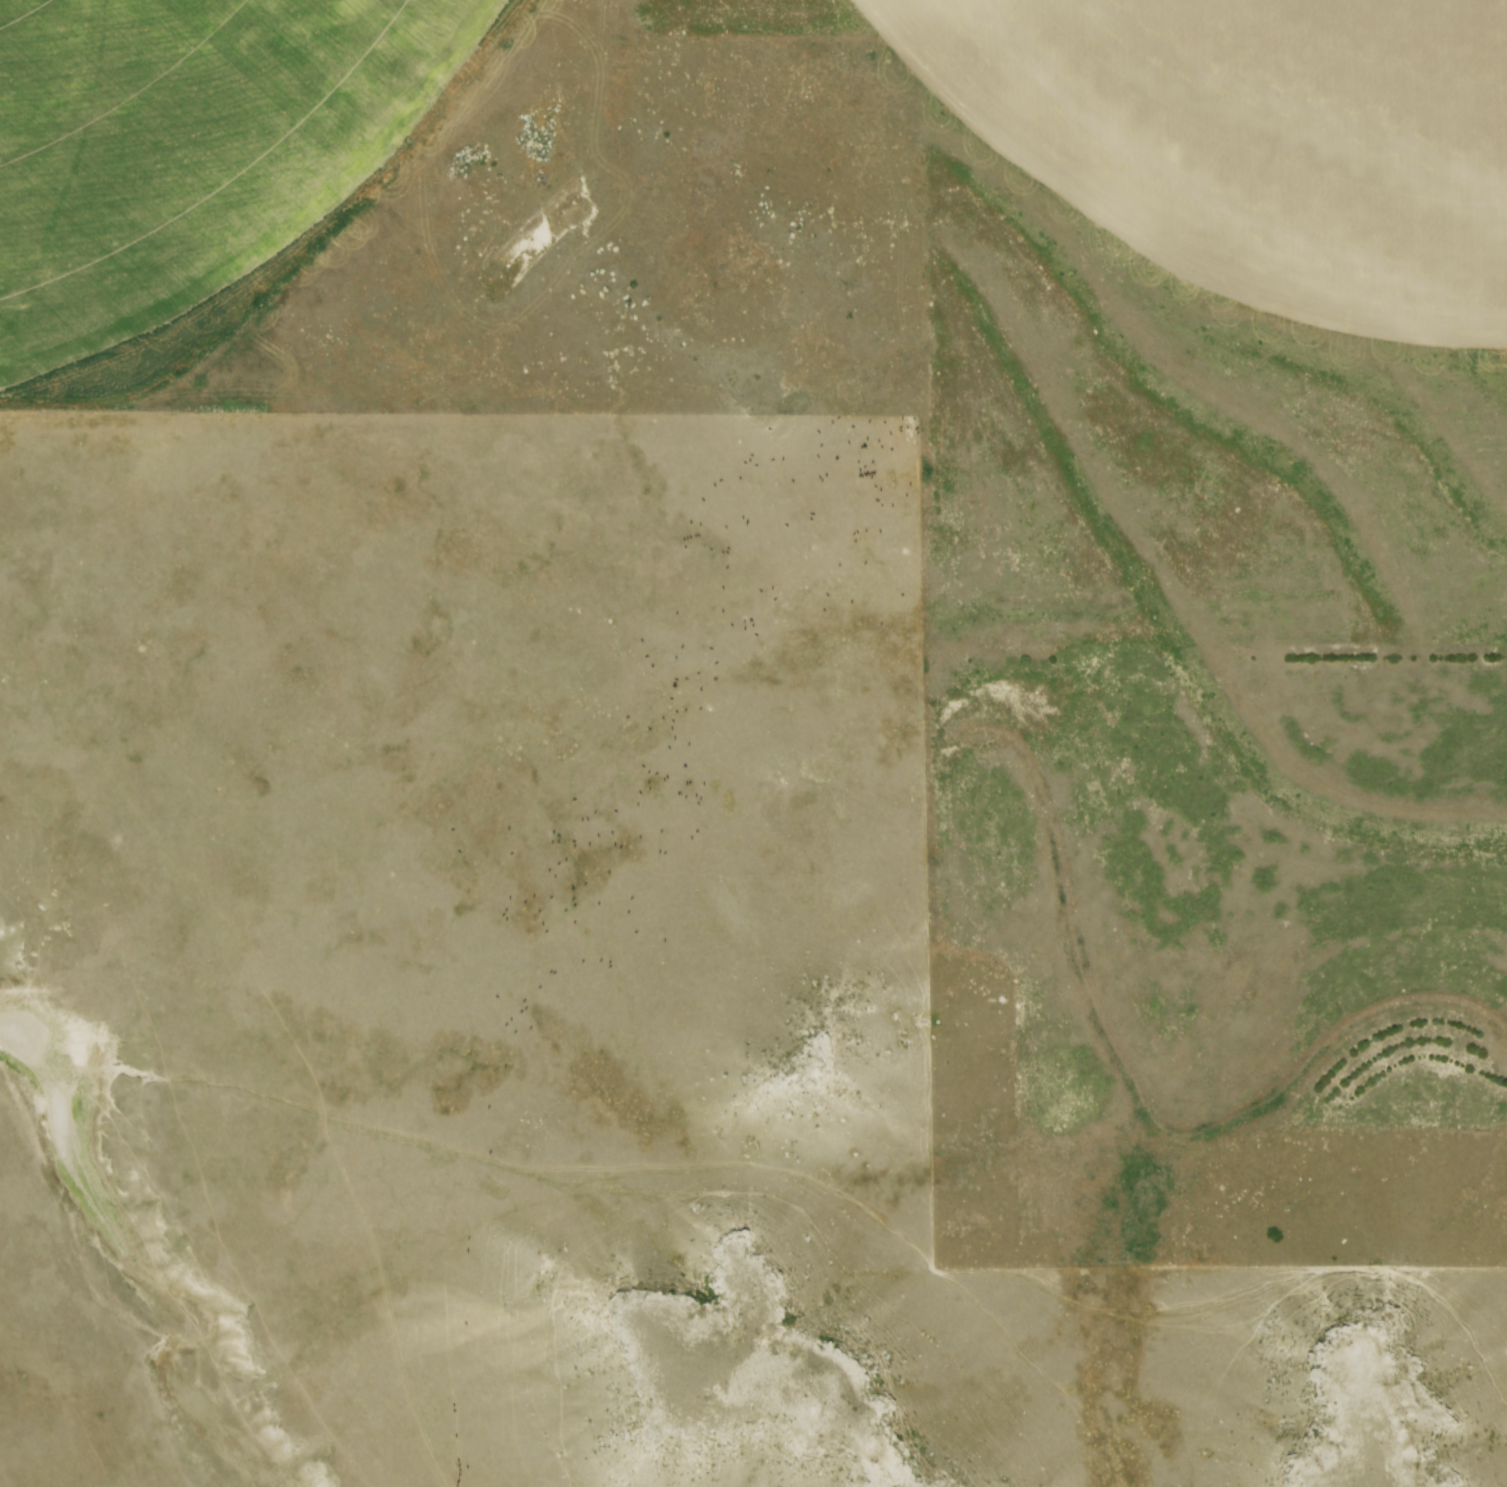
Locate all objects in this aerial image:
crop: (1257, 136)
crop: (184, 164)

